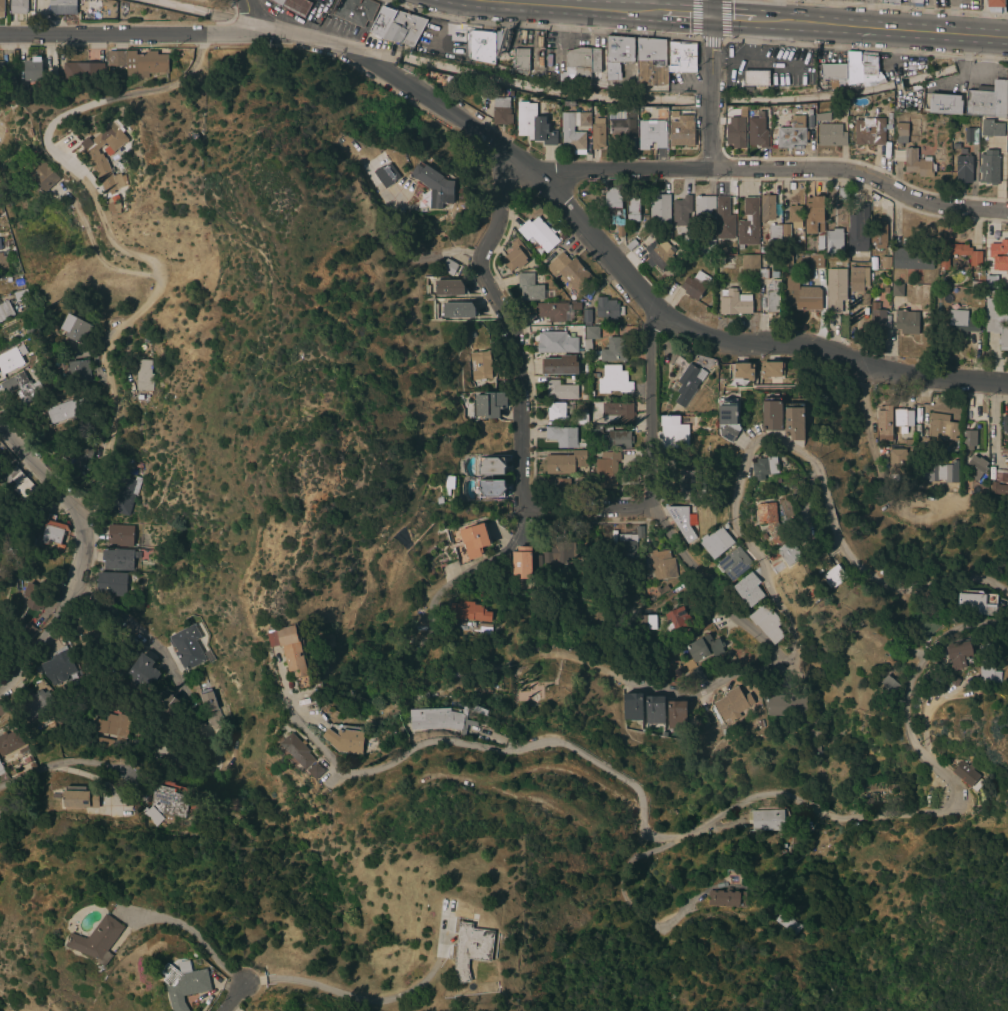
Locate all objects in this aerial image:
road: (556, 2)
building: (890, 2)
building: (915, 2)
road: (568, 5)
building: (995, 5)
building: (18, 6)
building: (295, 6)
building: (62, 7)
building: (1, 8)
road: (450, 9)
road: (777, 10)
building: (355, 11)
road: (677, 13)
road: (247, 16)
traffic signals: (706, 16)
road: (740, 17)
road: (694, 19)
road: (723, 21)
building: (383, 22)
road: (891, 27)
building: (404, 28)
parking lot: (343, 29)
road: (442, 33)
road: (749, 35)
parking lot: (443, 38)
road: (708, 41)
building: (483, 45)
building: (618, 52)
building: (682, 57)
road: (767, 57)
building: (521, 60)
road: (718, 61)
building: (138, 62)
building: (651, 62)
building: (578, 65)
building: (597, 68)
building: (853, 68)
road: (729, 69)
building: (869, 70)
building: (32, 71)
building: (115, 71)
building: (78, 72)
building: (6, 73)
building: (755, 73)
parking lot: (789, 73)
building: (835, 75)
parking lot: (967, 76)
building: (1007, 77)
building: (880, 79)
parking lot: (681, 82)
road: (707, 84)
road: (171, 85)
road: (689, 85)
building: (987, 101)
building: (568, 104)
building: (945, 104)
building: (501, 112)
building: (742, 113)
building: (674, 114)
building: (823, 116)
building: (889, 118)
building: (623, 122)
building: (533, 125)
road: (51, 126)
building: (991, 128)
building: (903, 129)
building: (682, 131)
building: (757, 131)
building: (869, 131)
building: (735, 132)
building: (792, 133)
building: (598, 134)
building: (651, 134)
building: (831, 135)
building: (971, 135)
building: (573, 141)
building: (954, 146)
building: (1006, 162)
building: (916, 163)
building: (99, 164)
road: (524, 166)
building: (989, 167)
road: (775, 169)
building: (963, 169)
building: (42, 174)
building: (386, 175)
building: (434, 185)
building: (842, 194)
building: (866, 198)
building: (611, 205)
building: (660, 208)
building: (767, 208)
building: (633, 209)
building: (703, 209)
building: (864, 209)
building: (681, 211)
building: (813, 213)
building: (794, 216)
building: (724, 219)
building: (748, 223)
building: (3, 227)
building: (620, 231)
building: (538, 233)
building: (785, 234)
building: (774, 235)
building: (561, 237)
building: (878, 237)
building: (857, 238)
building: (820, 241)
building: (834, 242)
building: (631, 245)
building: (0, 247)
building: (706, 247)
building: (763, 249)
building: (958, 254)
road: (408, 255)
building: (660, 255)
building: (999, 255)
building: (515, 256)
building: (912, 258)
building: (786, 260)
building: (750, 261)
building: (816, 261)
building: (2, 262)
building: (884, 262)
building: (448, 267)
building: (874, 267)
building: (569, 272)
building: (763, 273)
building: (774, 274)
building: (858, 279)
building: (18, 282)
building: (990, 282)
building: (975, 284)
building: (695, 285)
building: (449, 288)
building: (532, 288)
building: (836, 290)
building: (885, 290)
building: (896, 290)
building: (801, 294)
building: (20, 295)
building: (772, 297)
building: (864, 299)
building: (734, 302)
building: (607, 308)
building: (5, 310)
building: (458, 310)
building: (555, 310)
building: (586, 315)
building: (906, 321)
building: (997, 321)
building: (878, 322)
building: (961, 322)
building: (75, 328)
building: (32, 331)
road: (117, 331)
building: (589, 336)
building: (556, 342)
building: (1, 347)
building: (613, 350)
building: (584, 357)
building: (11, 358)
building: (559, 365)
building: (480, 366)
building: (79, 370)
building: (771, 370)
building: (691, 371)
building: (740, 371)
building: (144, 376)
building: (593, 376)
building: (614, 380)
building: (22, 387)
road: (518, 388)
building: (560, 390)
building: (489, 404)
building: (67, 408)
building: (556, 411)
building: (617, 413)
building: (772, 414)
road: (994, 414)
building: (580, 417)
building: (903, 419)
building: (728, 420)
building: (884, 420)
building: (794, 422)
building: (1004, 424)
building: (595, 430)
building: (939, 430)
building: (674, 434)
road: (868, 434)
building: (562, 436)
building: (617, 439)
building: (968, 440)
building: (907, 442)
building: (1004, 451)
building: (81, 461)
building: (897, 462)
building: (564, 463)
building: (138, 465)
building: (491, 466)
building: (976, 466)
building: (765, 467)
building: (606, 470)
road: (43, 474)
building: (577, 480)
building: (778, 480)
building: (19, 483)
building: (448, 484)
building: (558, 484)
building: (689, 484)
building: (491, 488)
building: (998, 488)
building: (125, 495)
building: (439, 500)
road: (660, 513)
building: (682, 521)
building: (771, 521)
building: (53, 531)
building: (120, 535)
building: (764, 536)
building: (474, 540)
building: (630, 541)
building: (716, 543)
road: (500, 549)
building: (559, 553)
building: (789, 554)
building: (118, 560)
building: (537, 561)
building: (521, 563)
building: (734, 563)
building: (661, 564)
building: (778, 567)
building: (833, 576)
road: (766, 577)
building: (112, 584)
building: (748, 589)
building: (33, 595)
building: (976, 603)
building: (468, 612)
road: (56, 616)
building: (677, 621)
building: (647, 622)
building: (766, 622)
building: (929, 627)
road: (133, 629)
building: (483, 629)
building: (27, 631)
building: (88, 633)
building: (187, 647)
building: (830, 647)
building: (700, 648)
building: (291, 649)
building: (958, 654)
building: (58, 669)
building: (94, 669)
building: (142, 672)
building: (988, 673)
building: (697, 675)
building: (78, 681)
building: (954, 681)
building: (889, 683)
building: (66, 684)
building: (534, 697)
building: (206, 701)
building: (37, 702)
building: (165, 702)
building: (732, 704)
building: (783, 704)
building: (632, 707)
building: (654, 709)
building: (1, 711)
building: (479, 711)
building: (676, 715)
building: (440, 719)
building: (760, 724)
building: (401, 729)
building: (110, 730)
building: (663, 734)
road: (310, 739)
building: (345, 740)
building: (10, 741)
building: (815, 747)
building: (23, 751)
building: (298, 751)
building: (53, 758)
road: (71, 764)
building: (1, 770)
building: (315, 771)
building: (967, 775)
building: (79, 797)
road: (754, 799)
building: (876, 799)
building: (165, 806)
building: (766, 820)
building: (725, 898)
building: (788, 923)
road: (189, 928)
building: (97, 939)
building: (471, 949)
building: (184, 983)
road: (230, 996)
road: (356, 998)
road: (231, 1007)

